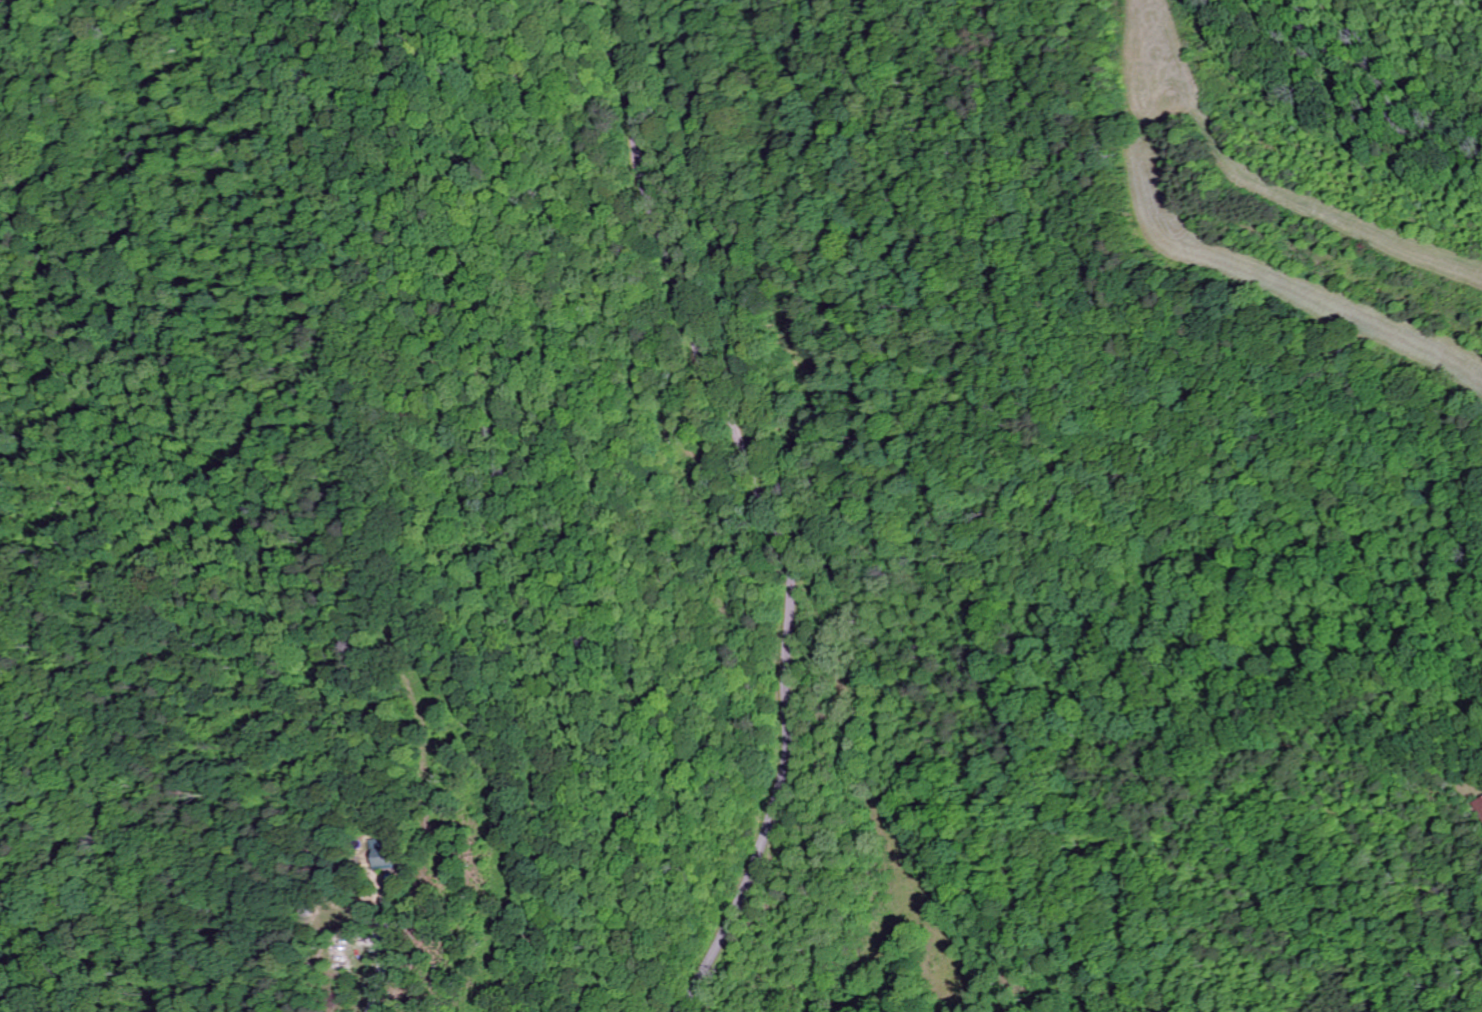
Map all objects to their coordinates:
road: (761, 499)
building: (1480, 805)
building: (400, 859)

